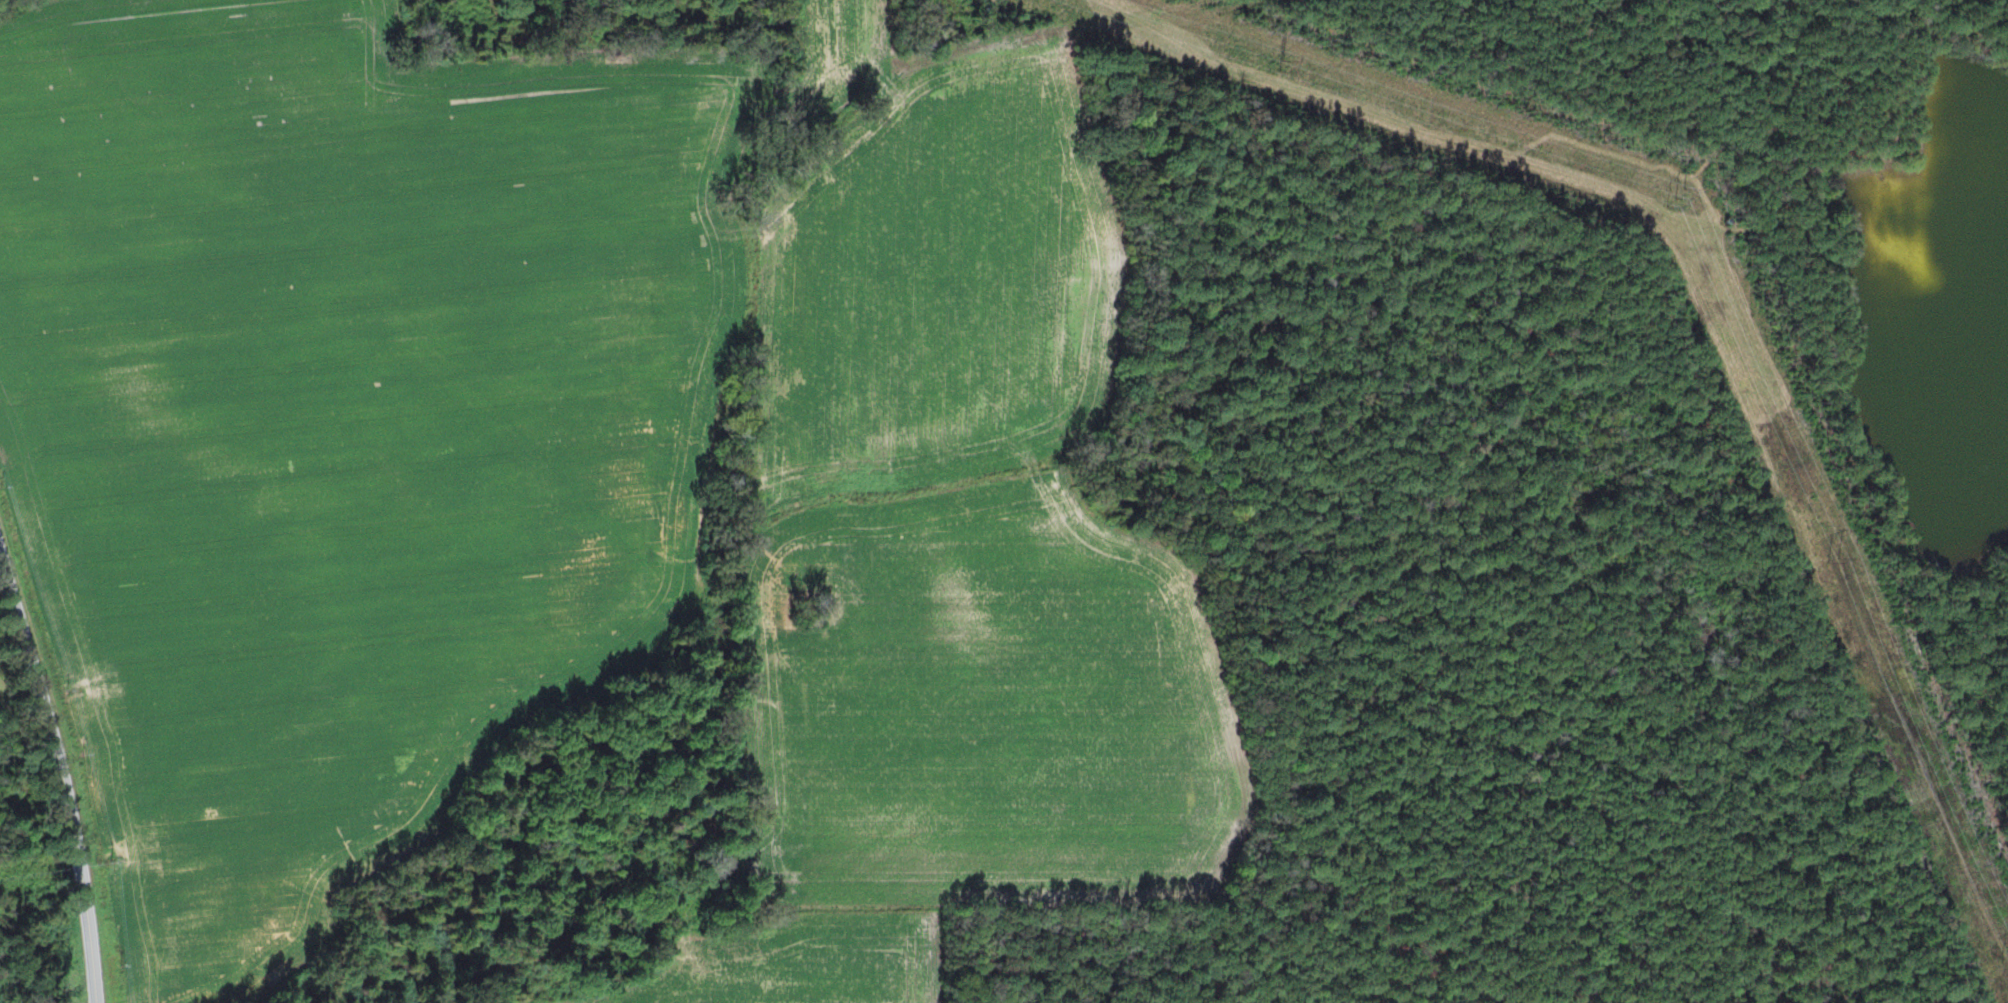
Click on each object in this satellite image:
power tower: (1281, 67)
power tower: (1679, 198)
power tower: (1894, 689)
road: (62, 771)

